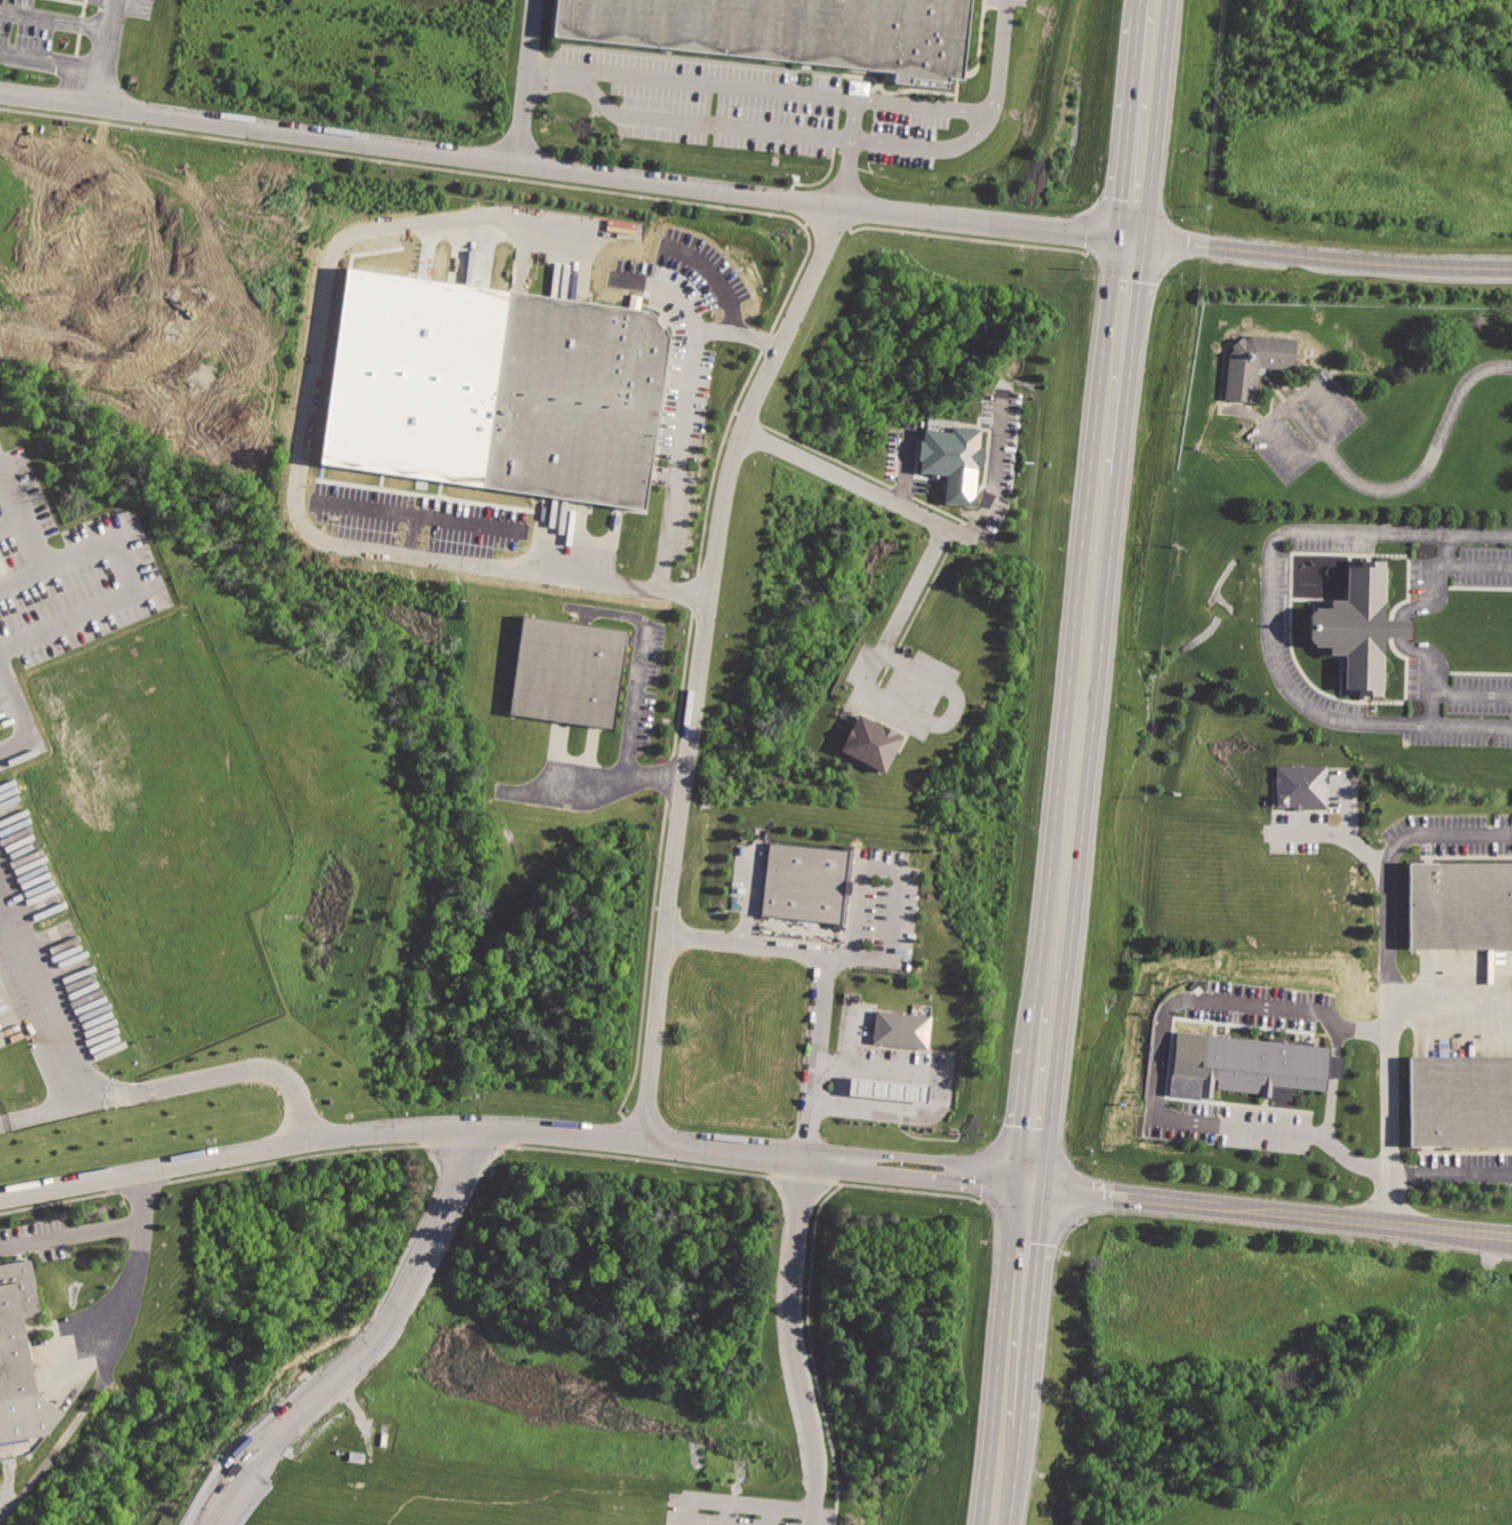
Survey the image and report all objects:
road: (1155, 2)
road: (1154, 14)
road: (57, 16)
building: (784, 31)
road: (108, 55)
road: (997, 55)
road: (53, 59)
road: (690, 82)
road: (524, 83)
road: (922, 107)
road: (851, 120)
road: (705, 122)
road: (1141, 132)
road: (928, 147)
road: (147, 169)
road: (564, 173)
road: (844, 173)
traffic signals: (1130, 241)
road: (1320, 258)
road: (712, 276)
road: (667, 289)
flagpole: (710, 314)
road: (738, 332)
road: (125, 343)
flagpole: (713, 343)
building: (1311, 383)
building: (495, 388)
road: (1300, 394)
road: (1329, 405)
road: (1249, 413)
road: (1277, 414)
road: (1306, 425)
road: (1335, 436)
road: (301, 438)
building: (954, 449)
road: (1292, 455)
road: (677, 458)
road: (5, 465)
road: (1430, 466)
road: (904, 470)
road: (996, 471)
road: (854, 482)
road: (416, 516)
road: (413, 535)
road: (124, 553)
road: (1479, 564)
building: (2, 567)
road: (24, 581)
road: (1439, 586)
road: (1268, 614)
road: (1090, 623)
building: (1358, 626)
road: (1401, 627)
road: (699, 663)
road: (640, 668)
road: (1431, 671)
building: (571, 675)
road: (1471, 690)
road: (875, 692)
road: (26, 721)
building: (870, 743)
road: (598, 787)
building: (1302, 788)
road: (1308, 832)
road: (1437, 832)
road: (895, 881)
building: (803, 882)
road: (749, 897)
building: (1460, 907)
road: (1387, 992)
road: (1450, 1003)
road: (1214, 1014)
road: (1050, 1024)
building: (900, 1028)
road: (1336, 1040)
road: (848, 1056)
building: (1248, 1066)
road: (1334, 1066)
road: (866, 1070)
road: (881, 1071)
road: (898, 1073)
road: (912, 1074)
road: (864, 1086)
road: (880, 1087)
building: (887, 1088)
road: (896, 1089)
road: (911, 1090)
road: (944, 1091)
road: (108, 1095)
road: (862, 1101)
road: (878, 1102)
road: (895, 1104)
building: (1460, 1104)
road: (910, 1106)
road: (1330, 1109)
road: (44, 1112)
road: (1041, 1112)
road: (400, 1127)
road: (1292, 1132)
road: (804, 1159)
road: (827, 1160)
road: (941, 1162)
road: (1452, 1174)
road: (885, 1178)
traffic signals: (1033, 1181)
road: (979, 1187)
road: (1127, 1191)
road: (1366, 1219)
road: (71, 1233)
road: (134, 1268)
road: (1020, 1300)
building: (16, 1326)
road: (370, 1347)
road: (1002, 1472)
road: (736, 1500)
road: (730, 1512)
road: (770, 1514)

